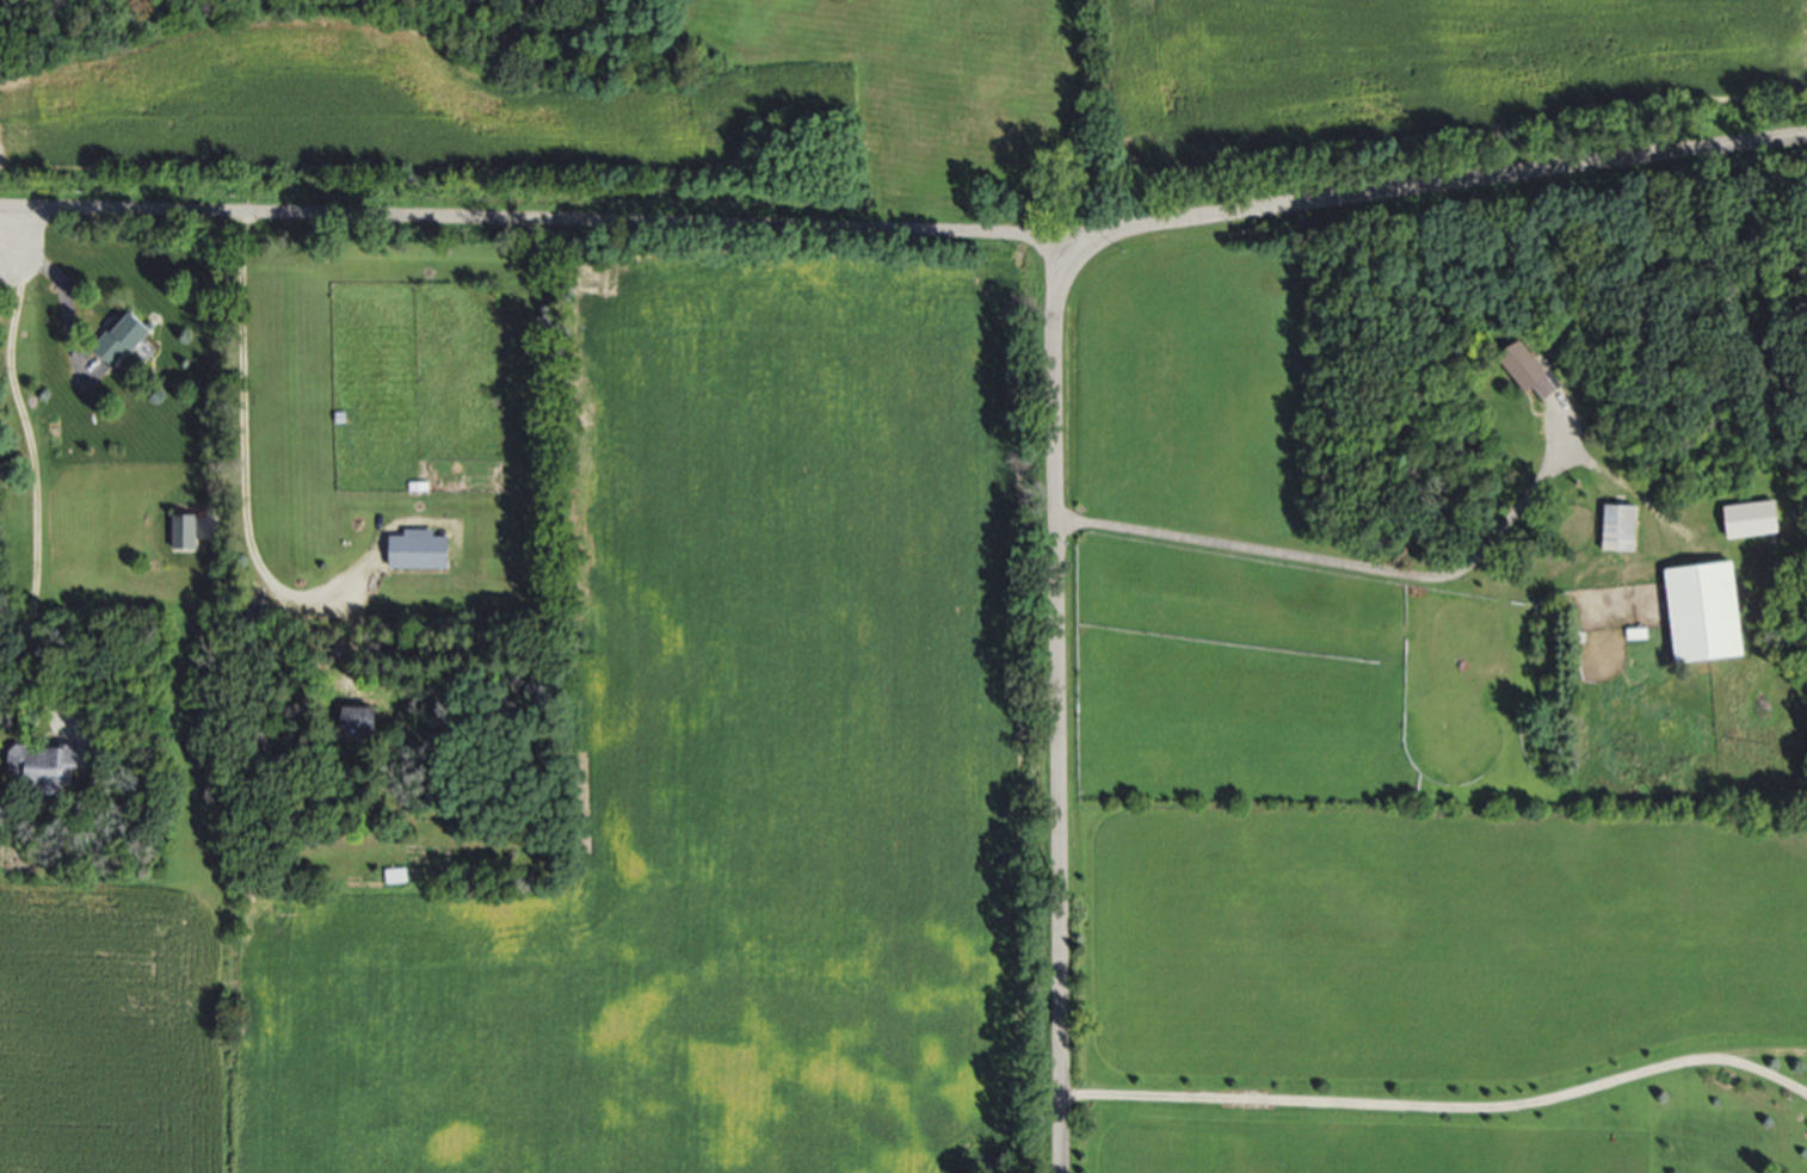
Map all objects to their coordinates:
road: (1444, 181)
road: (2, 208)
road: (2, 211)
road: (543, 218)
road: (2, 229)
road: (57, 282)
building: (127, 337)
building: (1532, 370)
road: (245, 458)
road: (35, 474)
building: (1758, 519)
building: (1627, 527)
building: (189, 531)
building: (423, 550)
road: (1313, 561)
building: (1713, 613)
road: (1057, 705)
building: (368, 718)
building: (49, 766)
crop: (664, 789)
building: (399, 875)
road: (1439, 1110)

